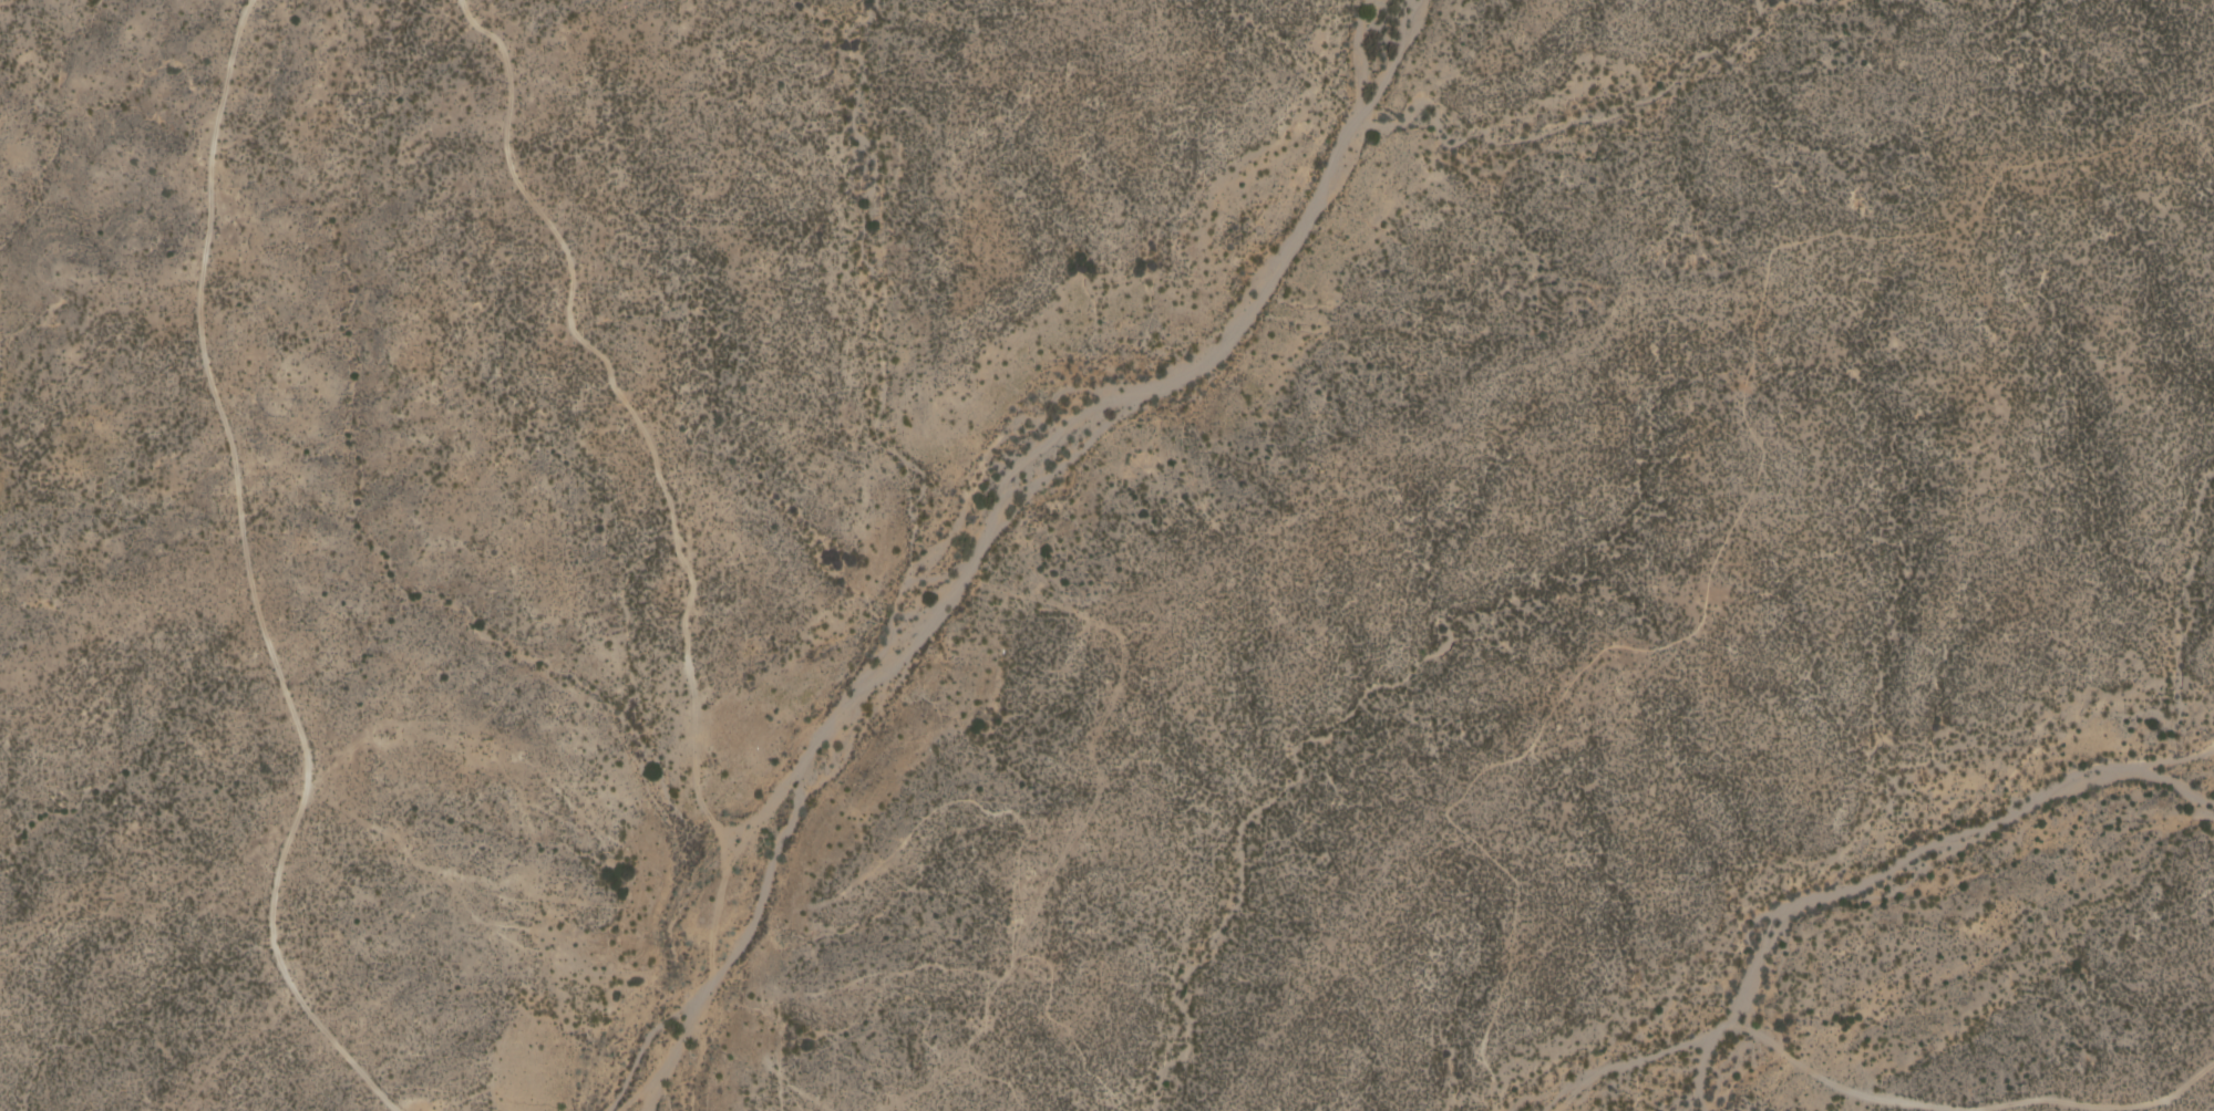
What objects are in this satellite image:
road: (652, 454)
road: (250, 579)
road: (672, 1041)
road: (1864, 1096)

